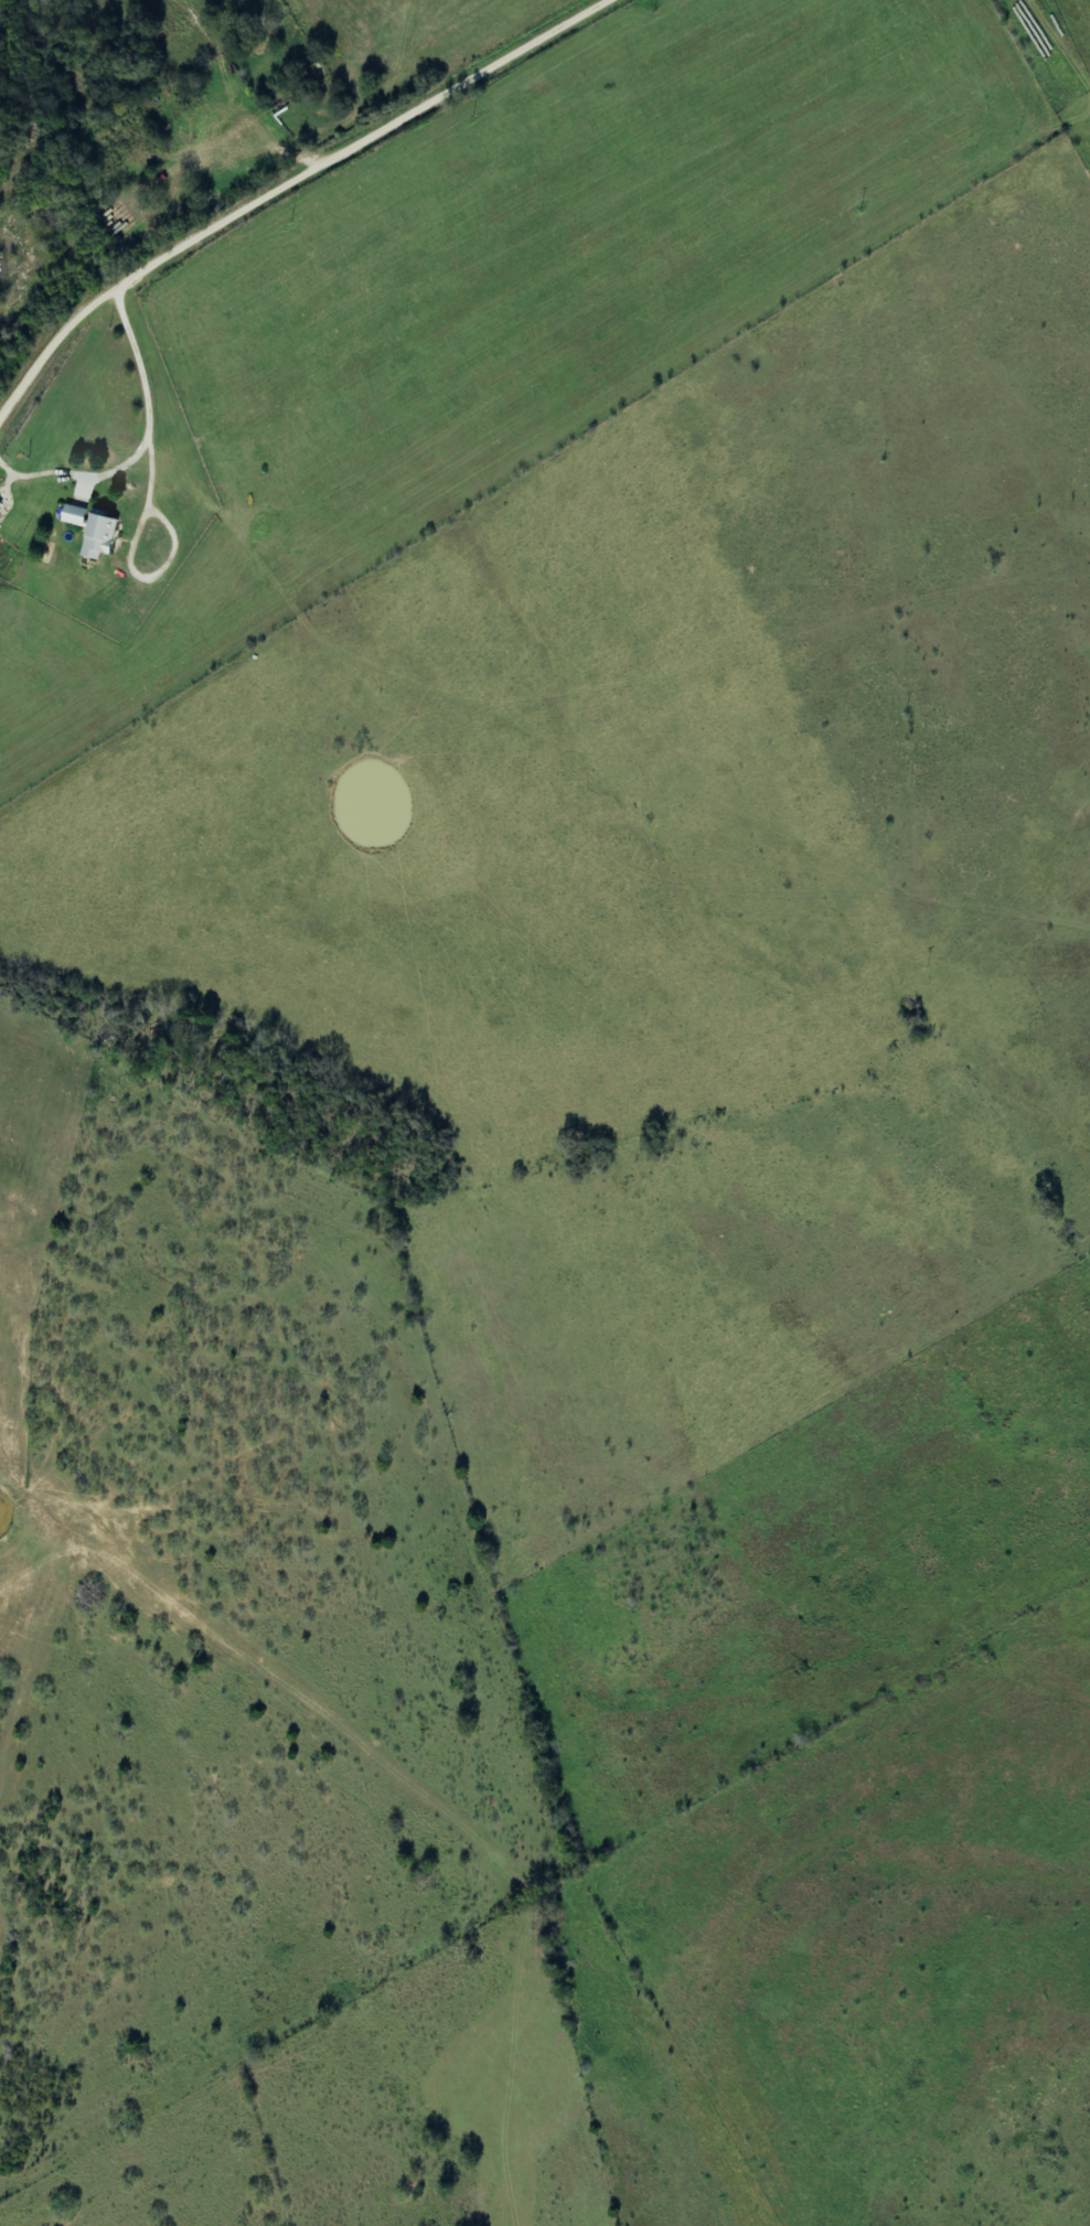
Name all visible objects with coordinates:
road: (246, 199)
building: (0, 505)
building: (75, 515)

